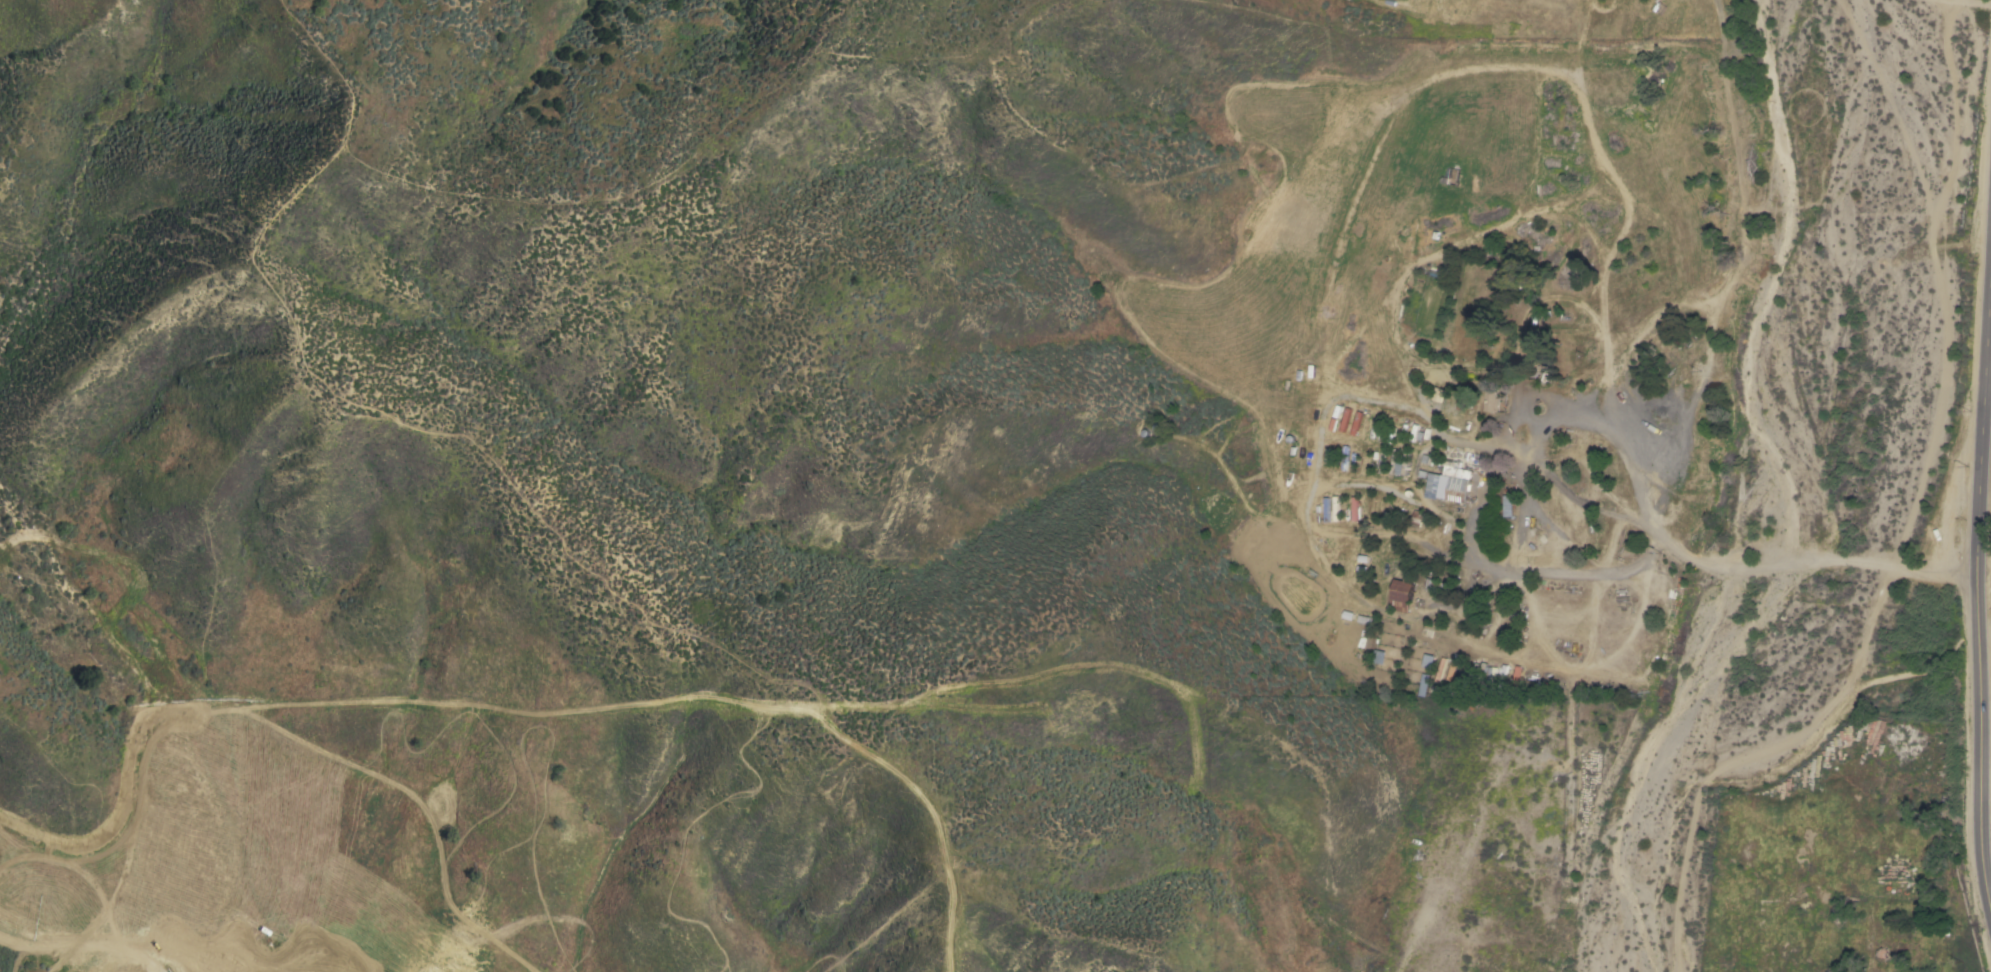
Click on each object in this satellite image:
road: (1976, 2)
building: (1534, 354)
road: (1988, 389)
building: (1494, 390)
road: (1592, 410)
road: (1534, 456)
building: (1399, 463)
building: (1451, 478)
building: (1508, 505)
road: (1585, 505)
building: (1354, 510)
building: (1416, 518)
road: (1307, 521)
road: (1414, 541)
building: (1384, 559)
road: (1974, 583)
building: (1438, 586)
building: (1401, 595)
building: (1427, 662)
building: (1422, 686)
road: (1569, 823)
building: (1917, 916)

